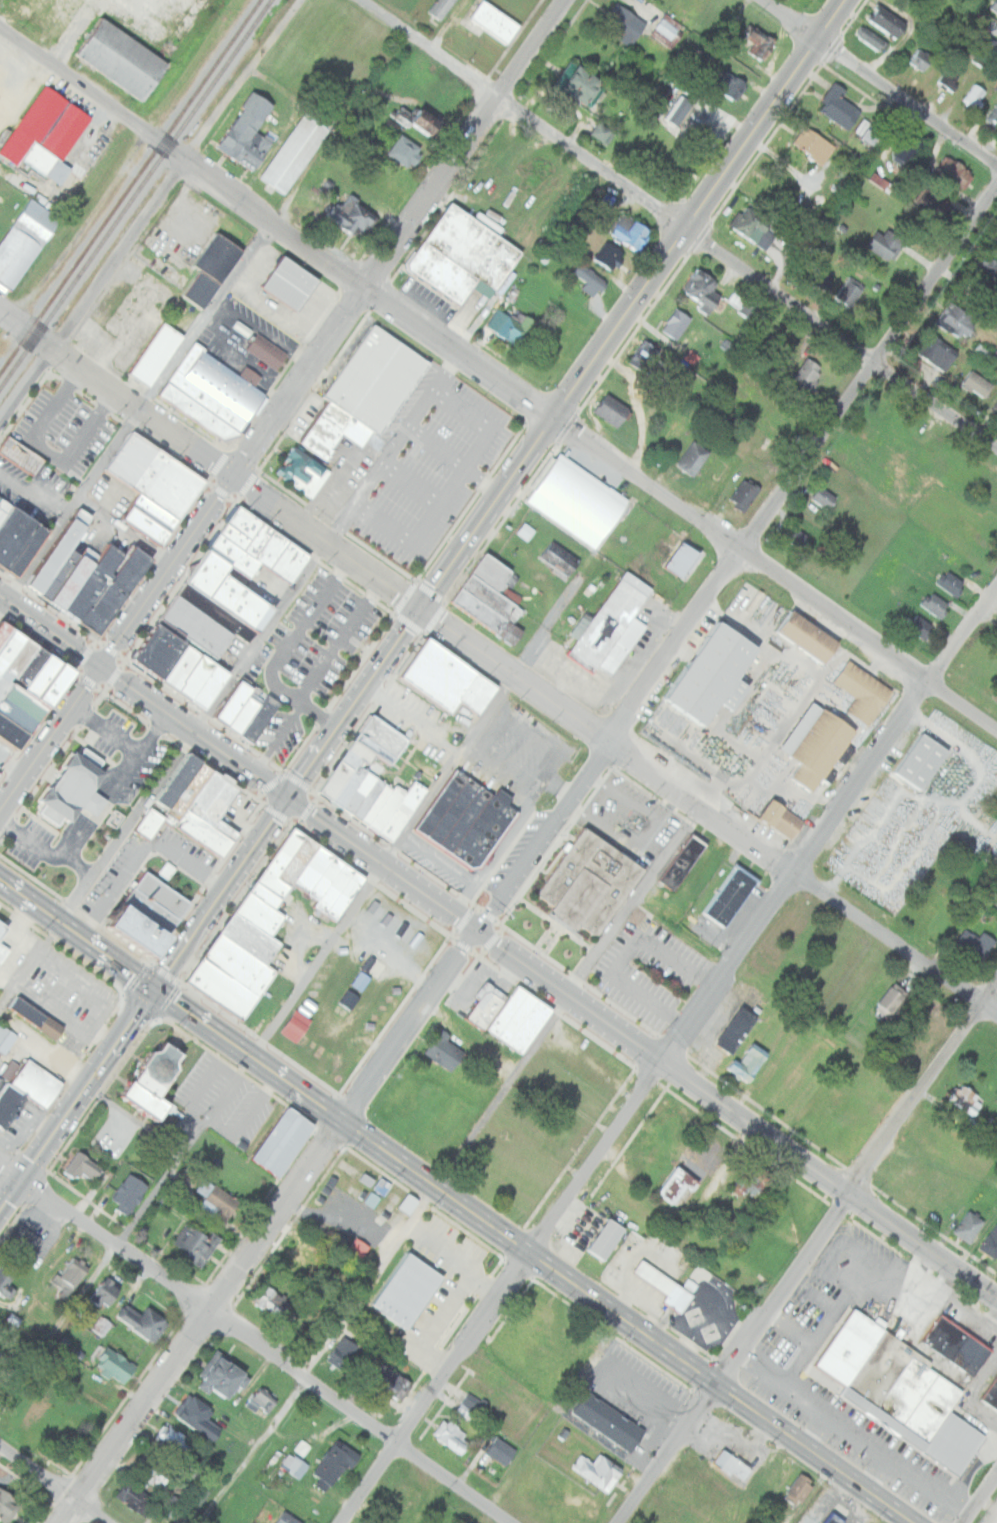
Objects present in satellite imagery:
building: (994, 5)
building: (439, 8)
building: (493, 22)
building: (624, 23)
building: (883, 26)
building: (668, 31)
building: (758, 43)
building: (988, 46)
building: (113, 57)
building: (922, 58)
building: (950, 79)
road: (880, 81)
building: (580, 84)
road: (84, 86)
building: (728, 86)
building: (976, 94)
building: (841, 106)
building: (673, 113)
building: (993, 114)
building: (420, 123)
road: (339, 124)
building: (864, 131)
building: (248, 132)
building: (602, 132)
building: (46, 133)
building: (817, 146)
building: (910, 147)
building: (296, 149)
building: (403, 150)
building: (955, 172)
railway: (129, 185)
railway: (134, 193)
building: (931, 199)
road: (149, 207)
building: (354, 214)
road: (679, 221)
building: (755, 229)
building: (630, 230)
building: (24, 241)
building: (888, 245)
building: (463, 254)
building: (608, 255)
building: (211, 270)
building: (984, 274)
building: (816, 277)
building: (588, 281)
building: (292, 284)
building: (701, 289)
building: (850, 293)
road: (638, 306)
building: (958, 321)
building: (676, 323)
road: (17, 324)
building: (510, 324)
road: (339, 336)
building: (267, 351)
building: (980, 351)
building: (938, 352)
building: (156, 353)
building: (996, 353)
building: (644, 356)
building: (806, 376)
building: (376, 378)
building: (977, 383)
building: (214, 394)
building: (995, 406)
road: (134, 410)
building: (611, 410)
road: (582, 438)
road: (48, 451)
building: (21, 454)
building: (692, 458)
building: (303, 471)
building: (154, 474)
road: (226, 474)
building: (739, 495)
building: (823, 498)
building: (573, 500)
building: (4, 508)
building: (149, 518)
building: (243, 520)
road: (126, 531)
building: (524, 531)
building: (14, 535)
building: (233, 535)
building: (796, 537)
building: (258, 538)
building: (273, 548)
building: (61, 549)
building: (26, 551)
building: (234, 554)
building: (555, 557)
building: (291, 560)
building: (683, 560)
road: (738, 562)
building: (638, 568)
building: (64, 570)
building: (207, 573)
building: (75, 578)
building: (94, 581)
building: (949, 582)
building: (115, 589)
building: (490, 598)
building: (243, 604)
building: (934, 605)
traffic signals: (420, 609)
building: (216, 613)
building: (611, 625)
building: (197, 626)
building: (919, 626)
building: (5, 634)
building: (807, 636)
road: (338, 641)
building: (12, 651)
building: (157, 651)
road: (282, 652)
building: (24, 658)
building: (35, 665)
building: (179, 666)
traffic signals: (101, 668)
building: (713, 673)
building: (194, 676)
building: (439, 676)
building: (46, 677)
building: (59, 686)
building: (208, 686)
building: (862, 692)
building: (479, 695)
building: (232, 702)
road: (355, 704)
building: (24, 709)
building: (242, 713)
building: (258, 717)
road: (528, 727)
road: (105, 731)
building: (13, 734)
building: (383, 734)
road: (278, 740)
road: (50, 741)
building: (817, 745)
building: (374, 747)
building: (356, 754)
parking lot: (5, 756)
building: (919, 761)
road: (502, 763)
road: (13, 766)
building: (334, 781)
building: (176, 782)
road: (115, 785)
building: (348, 787)
building: (78, 789)
building: (188, 791)
building: (358, 793)
road: (527, 799)
traffic signals: (291, 800)
building: (367, 800)
road: (142, 804)
building: (213, 804)
building: (375, 805)
building: (385, 808)
building: (401, 811)
road: (706, 811)
building: (113, 818)
building: (780, 818)
road: (414, 819)
building: (466, 820)
building: (148, 823)
road: (832, 830)
building: (204, 833)
building: (680, 861)
building: (300, 862)
building: (282, 863)
building: (314, 869)
road: (450, 870)
building: (327, 878)
building: (589, 883)
building: (336, 888)
building: (267, 894)
building: (347, 895)
building: (730, 896)
road: (76, 897)
building: (995, 902)
building: (146, 912)
building: (261, 913)
building: (116, 928)
building: (3, 929)
building: (251, 938)
parking lot: (391, 943)
building: (974, 943)
road: (498, 945)
building: (1, 950)
building: (241, 964)
building: (357, 980)
building: (224, 989)
road: (156, 990)
traffic signals: (155, 993)
building: (346, 999)
building: (889, 999)
building: (485, 1008)
building: (37, 1018)
building: (518, 1018)
building: (291, 1025)
building: (738, 1030)
building: (6, 1038)
building: (443, 1051)
building: (749, 1062)
building: (0, 1079)
building: (155, 1081)
building: (28, 1091)
road: (926, 1094)
building: (963, 1098)
building: (968, 1124)
building: (284, 1141)
building: (83, 1167)
building: (344, 1167)
road: (11, 1174)
building: (363, 1178)
building: (329, 1180)
traffic signals: (22, 1182)
building: (749, 1183)
building: (671, 1184)
building: (378, 1186)
building: (129, 1194)
road: (11, 1197)
building: (370, 1199)
road: (457, 1200)
building: (216, 1201)
building: (402, 1204)
building: (968, 1225)
road: (269, 1227)
building: (327, 1233)
building: (606, 1239)
building: (24, 1240)
building: (195, 1243)
building: (990, 1243)
building: (353, 1248)
building: (299, 1255)
road: (100, 1265)
building: (735, 1271)
building: (72, 1273)
building: (6, 1278)
building: (665, 1286)
building: (406, 1288)
road: (504, 1292)
building: (105, 1293)
road: (845, 1296)
building: (270, 1300)
road: (955, 1302)
building: (143, 1321)
road: (791, 1327)
building: (957, 1345)
building: (847, 1347)
road: (267, 1349)
building: (343, 1352)
road: (734, 1357)
building: (116, 1366)
building: (877, 1373)
building: (222, 1375)
building: (389, 1382)
building: (991, 1394)
building: (904, 1395)
building: (259, 1402)
building: (474, 1409)
building: (930, 1413)
building: (199, 1418)
building: (609, 1421)
road: (817, 1428)
road: (856, 1430)
building: (451, 1436)
building: (172, 1443)
building: (954, 1444)
road: (254, 1449)
building: (501, 1450)
building: (335, 1463)
building: (294, 1464)
building: (731, 1464)
building: (153, 1469)
building: (597, 1470)
road: (877, 1471)
building: (776, 1472)
road: (55, 1483)
building: (798, 1489)
building: (134, 1498)
road: (980, 1500)
building: (7, 1505)
building: (190, 1505)
building: (287, 1518)
building: (826, 1519)
building: (836, 1519)
building: (366, 1521)

